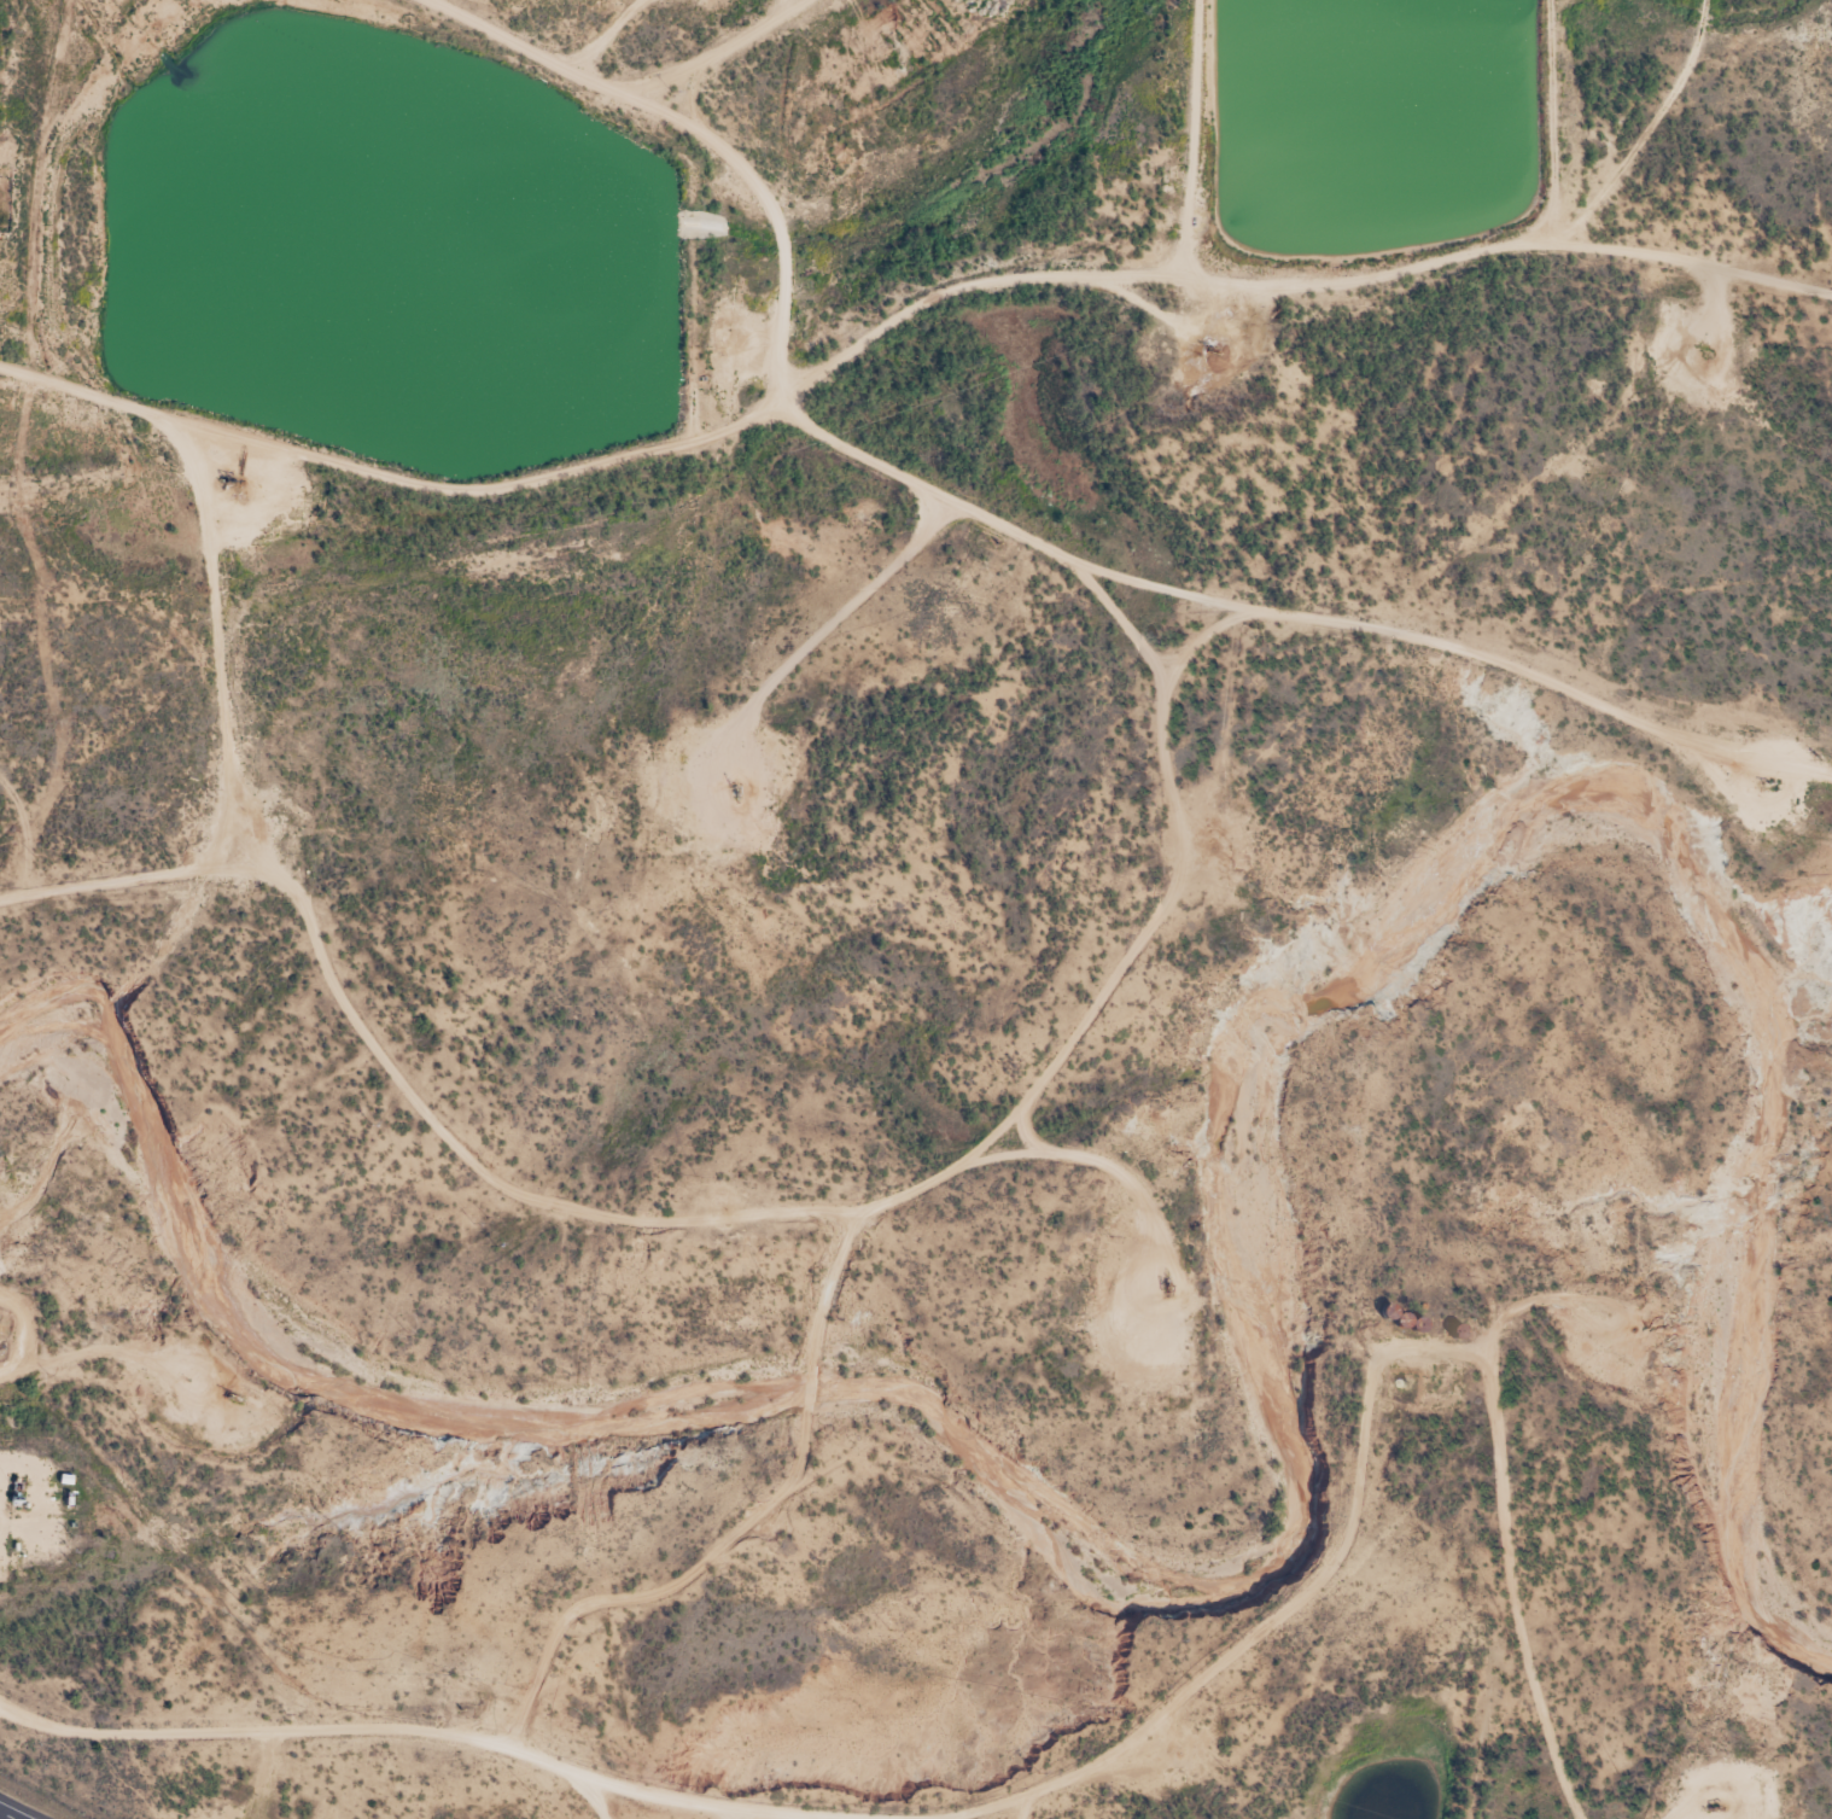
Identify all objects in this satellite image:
road: (708, 51)
road: (694, 95)
road: (699, 132)
road: (1189, 139)
road: (897, 320)
road: (1294, 614)
road: (216, 631)
road: (1201, 640)
road: (754, 1217)
road: (829, 1288)
building: (1459, 1330)
road: (104, 1351)
road: (810, 1389)
road: (1366, 1403)
road: (660, 1591)
road: (431, 1730)
road: (597, 1800)
road: (1022, 1806)
road: (7, 1814)
road: (731, 1814)

